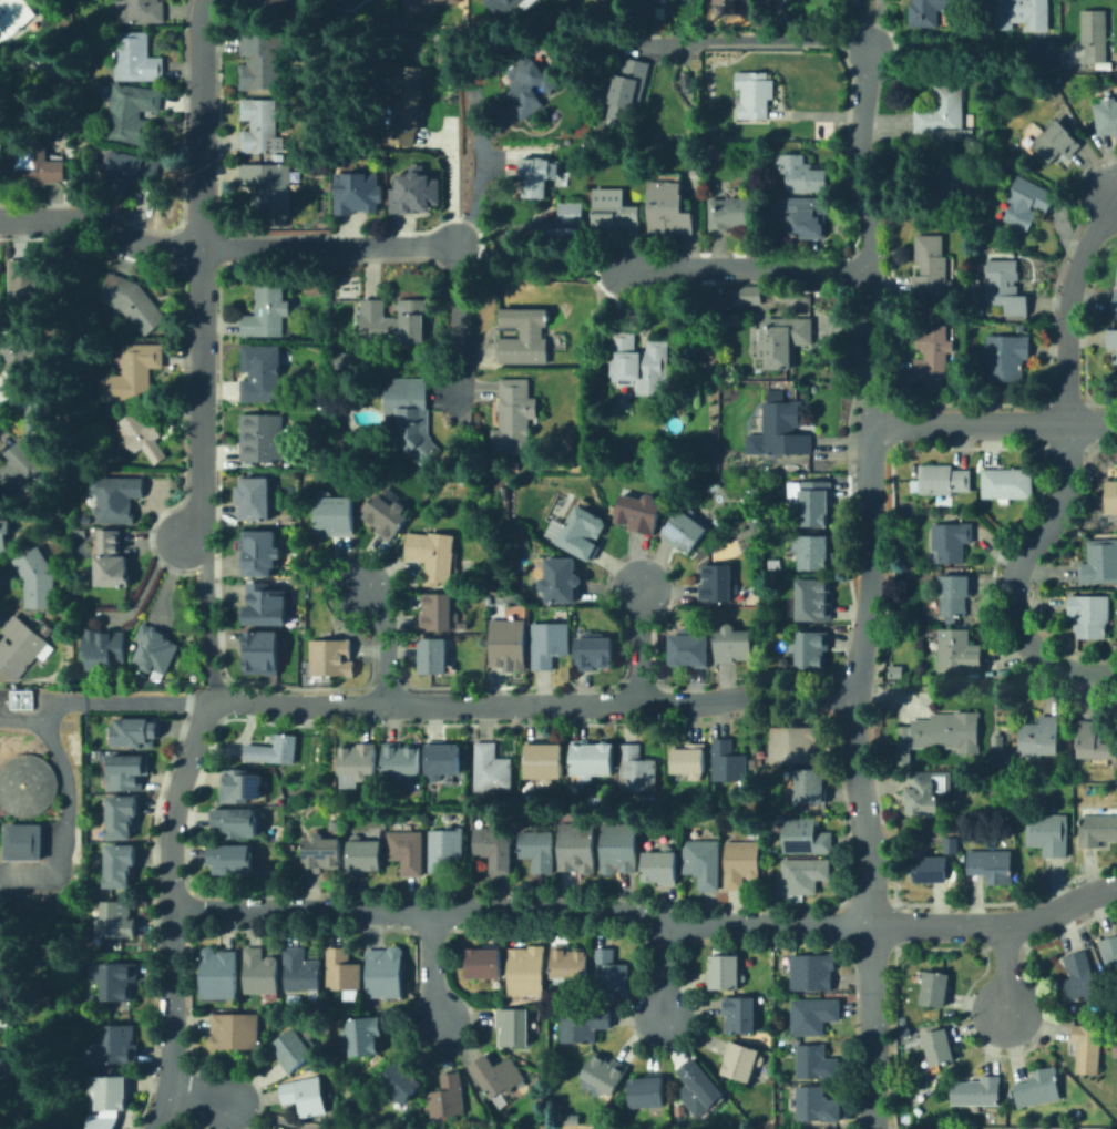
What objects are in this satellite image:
building: (736, 0)
building: (431, 1)
building: (727, 1)
building: (276, 4)
building: (510, 6)
building: (141, 11)
building: (929, 11)
building: (1023, 13)
building: (13, 17)
road: (873, 19)
road: (853, 20)
building: (402, 22)
building: (1094, 34)
road: (760, 40)
road: (962, 47)
building: (757, 55)
building: (136, 59)
building: (264, 62)
building: (530, 85)
building: (628, 86)
building: (754, 95)
building: (404, 103)
building: (132, 114)
building: (945, 114)
building: (1106, 117)
building: (262, 129)
building: (1055, 143)
building: (38, 170)
building: (132, 172)
building: (805, 175)
building: (534, 177)
building: (945, 178)
building: (268, 187)
building: (419, 193)
building: (360, 194)
road: (475, 197)
building: (1027, 203)
building: (613, 209)
building: (668, 209)
building: (572, 213)
building: (730, 213)
building: (806, 213)
road: (227, 247)
road: (541, 256)
building: (931, 265)
road: (747, 267)
road: (198, 271)
building: (29, 286)
building: (1004, 287)
building: (751, 296)
building: (134, 302)
road: (1067, 304)
building: (1115, 304)
building: (268, 312)
building: (393, 321)
road: (462, 326)
building: (1022, 328)
building: (524, 337)
building: (1111, 339)
building: (783, 341)
building: (22, 355)
building: (934, 356)
building: (1007, 357)
building: (1115, 358)
building: (345, 361)
building: (641, 365)
building: (133, 374)
building: (263, 376)
building: (39, 413)
building: (410, 417)
building: (514, 418)
road: (994, 424)
building: (780, 428)
building: (144, 437)
building: (262, 438)
building: (660, 465)
building: (25, 471)
building: (462, 476)
building: (777, 476)
building: (941, 480)
building: (1007, 484)
building: (503, 494)
building: (1110, 496)
building: (116, 499)
building: (255, 500)
building: (812, 502)
building: (613, 511)
building: (638, 513)
building: (334, 515)
building: (385, 516)
building: (685, 531)
building: (578, 532)
building: (80, 533)
building: (3, 534)
building: (950, 542)
building: (259, 548)
building: (813, 552)
building: (432, 555)
building: (112, 561)
building: (1099, 563)
road: (1015, 576)
building: (37, 579)
building: (561, 581)
building: (717, 584)
road: (871, 585)
building: (954, 595)
building: (264, 601)
building: (813, 601)
road: (206, 608)
building: (438, 613)
building: (1089, 616)
road: (387, 644)
building: (508, 644)
building: (549, 644)
building: (732, 645)
road: (645, 646)
building: (20, 647)
building: (260, 647)
building: (102, 648)
building: (155, 649)
building: (688, 650)
building: (810, 650)
building: (593, 653)
building: (959, 653)
building: (433, 657)
building: (330, 658)
road: (214, 692)
building: (20, 698)
road: (105, 704)
road: (531, 706)
building: (137, 732)
building: (942, 735)
building: (1041, 739)
building: (998, 741)
building: (1094, 743)
building: (793, 745)
building: (1015, 747)
building: (275, 749)
building: (359, 760)
building: (442, 760)
building: (544, 760)
building: (592, 760)
building: (689, 760)
building: (401, 761)
building: (728, 762)
building: (760, 762)
building: (491, 769)
building: (636, 770)
building: (126, 772)
building: (25, 783)
building: (242, 786)
building: (810, 787)
building: (925, 794)
building: (121, 817)
building: (445, 818)
road: (69, 820)
building: (418, 821)
building: (236, 823)
building: (332, 824)
building: (1097, 830)
building: (1048, 834)
building: (806, 837)
building: (22, 841)
building: (577, 848)
building: (618, 848)
building: (444, 849)
building: (494, 849)
building: (537, 851)
building: (407, 852)
building: (321, 853)
building: (363, 855)
building: (232, 859)
building: (704, 863)
building: (741, 863)
building: (120, 865)
building: (992, 866)
building: (660, 868)
building: (931, 870)
building: (802, 876)
road: (176, 913)
building: (117, 920)
road: (649, 922)
building: (1110, 955)
road: (430, 964)
building: (484, 964)
building: (568, 964)
building: (342, 971)
road: (1003, 971)
building: (260, 972)
building: (301, 972)
building: (526, 972)
road: (663, 972)
building: (812, 972)
building: (385, 973)
building: (611, 973)
building: (725, 973)
building: (219, 975)
building: (9, 976)
building: (1079, 978)
building: (119, 982)
building: (935, 989)
building: (739, 1015)
building: (813, 1016)
building: (902, 1020)
building: (584, 1024)
building: (514, 1027)
building: (903, 1030)
building: (235, 1032)
building: (363, 1037)
building: (120, 1045)
building: (939, 1048)
building: (1088, 1049)
building: (295, 1050)
building: (543, 1060)
building: (2, 1061)
building: (742, 1061)
building: (816, 1063)
road: (468, 1072)
building: (605, 1074)
building: (498, 1076)
building: (400, 1082)
building: (698, 1088)
building: (1038, 1088)
building: (647, 1092)
building: (976, 1092)
building: (113, 1094)
building: (306, 1096)
building: (449, 1097)
road: (199, 1099)
building: (817, 1106)
building: (919, 1111)
road: (271, 1118)
building: (102, 1122)

